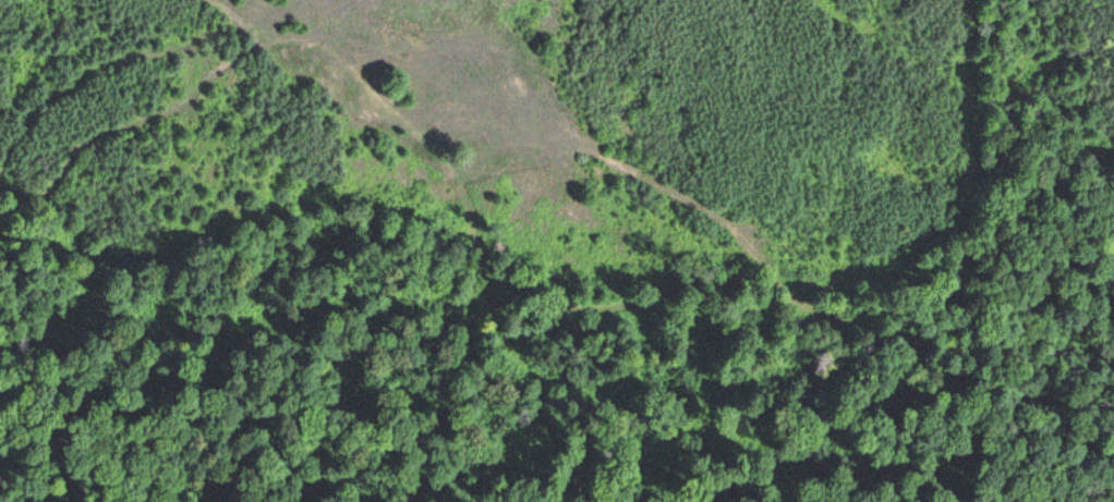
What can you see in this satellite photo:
road: (477, 132)
road: (622, 284)

